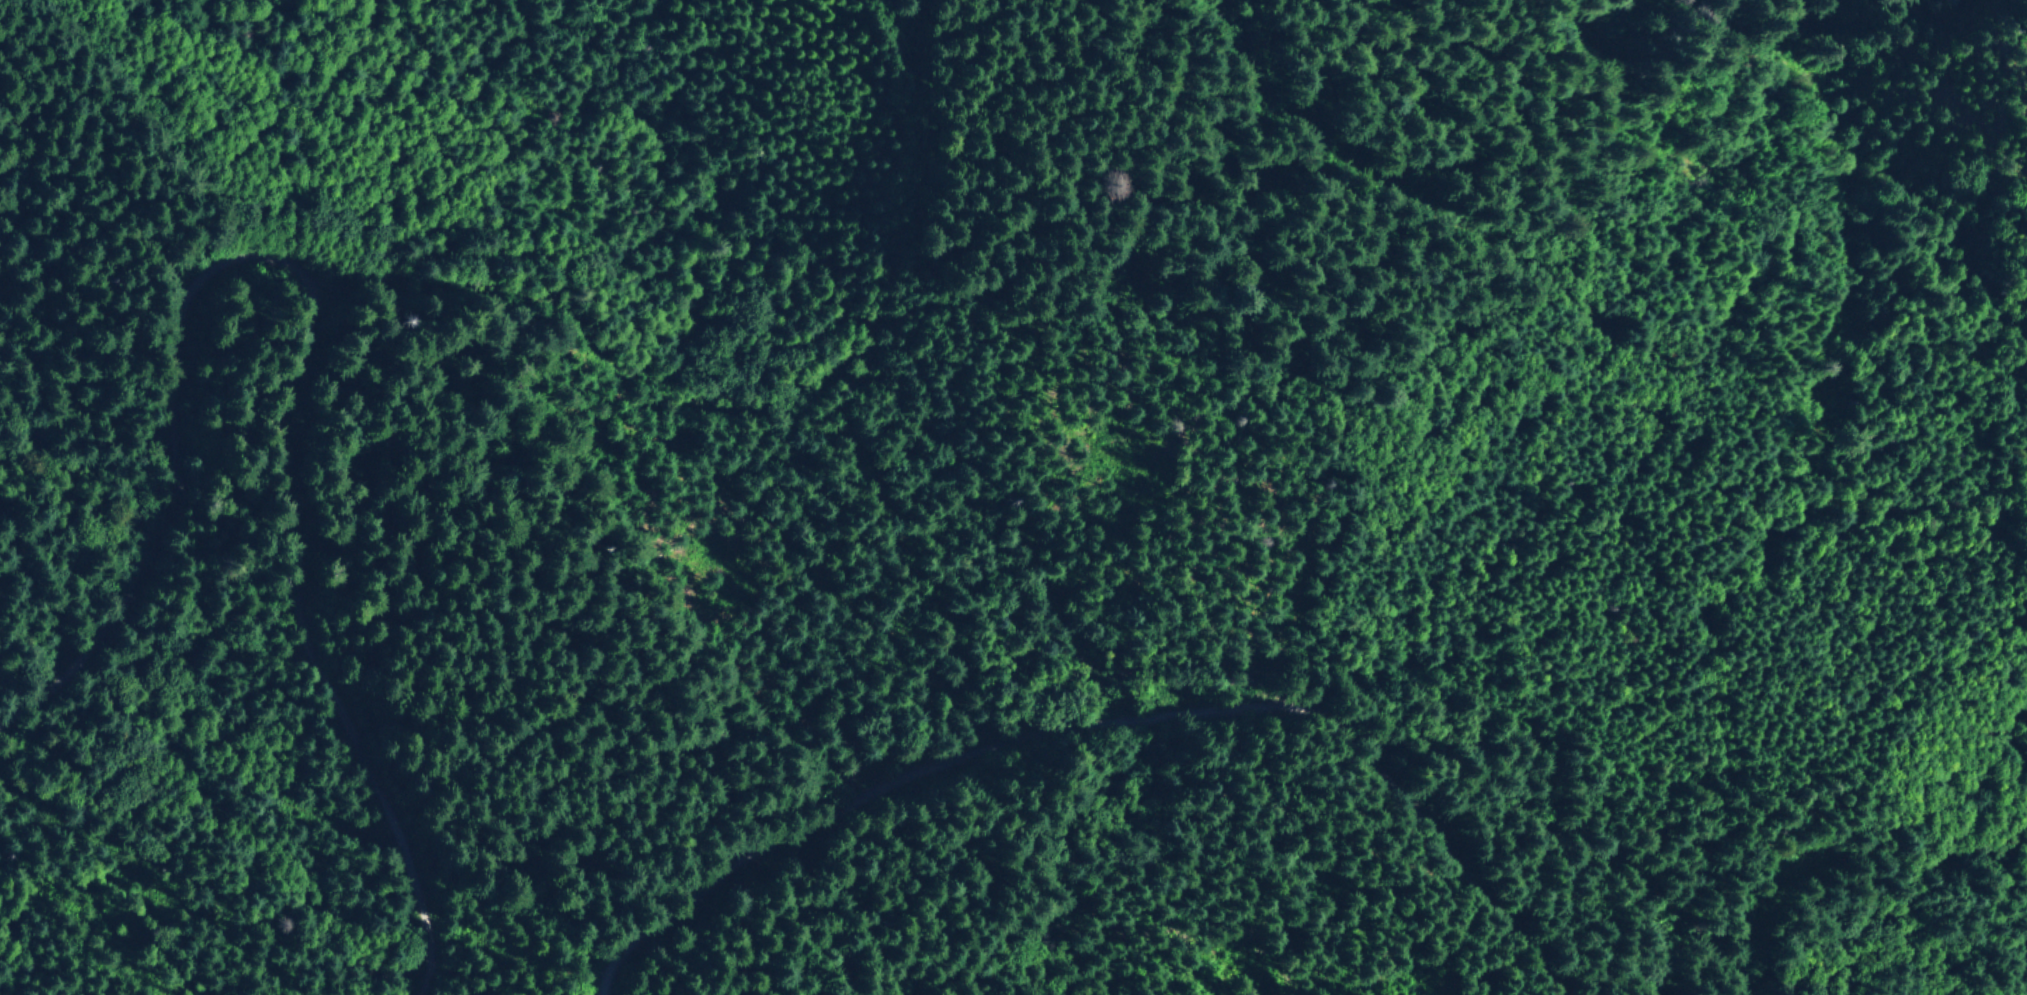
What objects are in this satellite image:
road: (348, 268)
road: (1528, 295)
road: (795, 422)
road: (1137, 734)
road: (1842, 896)
road: (742, 947)

